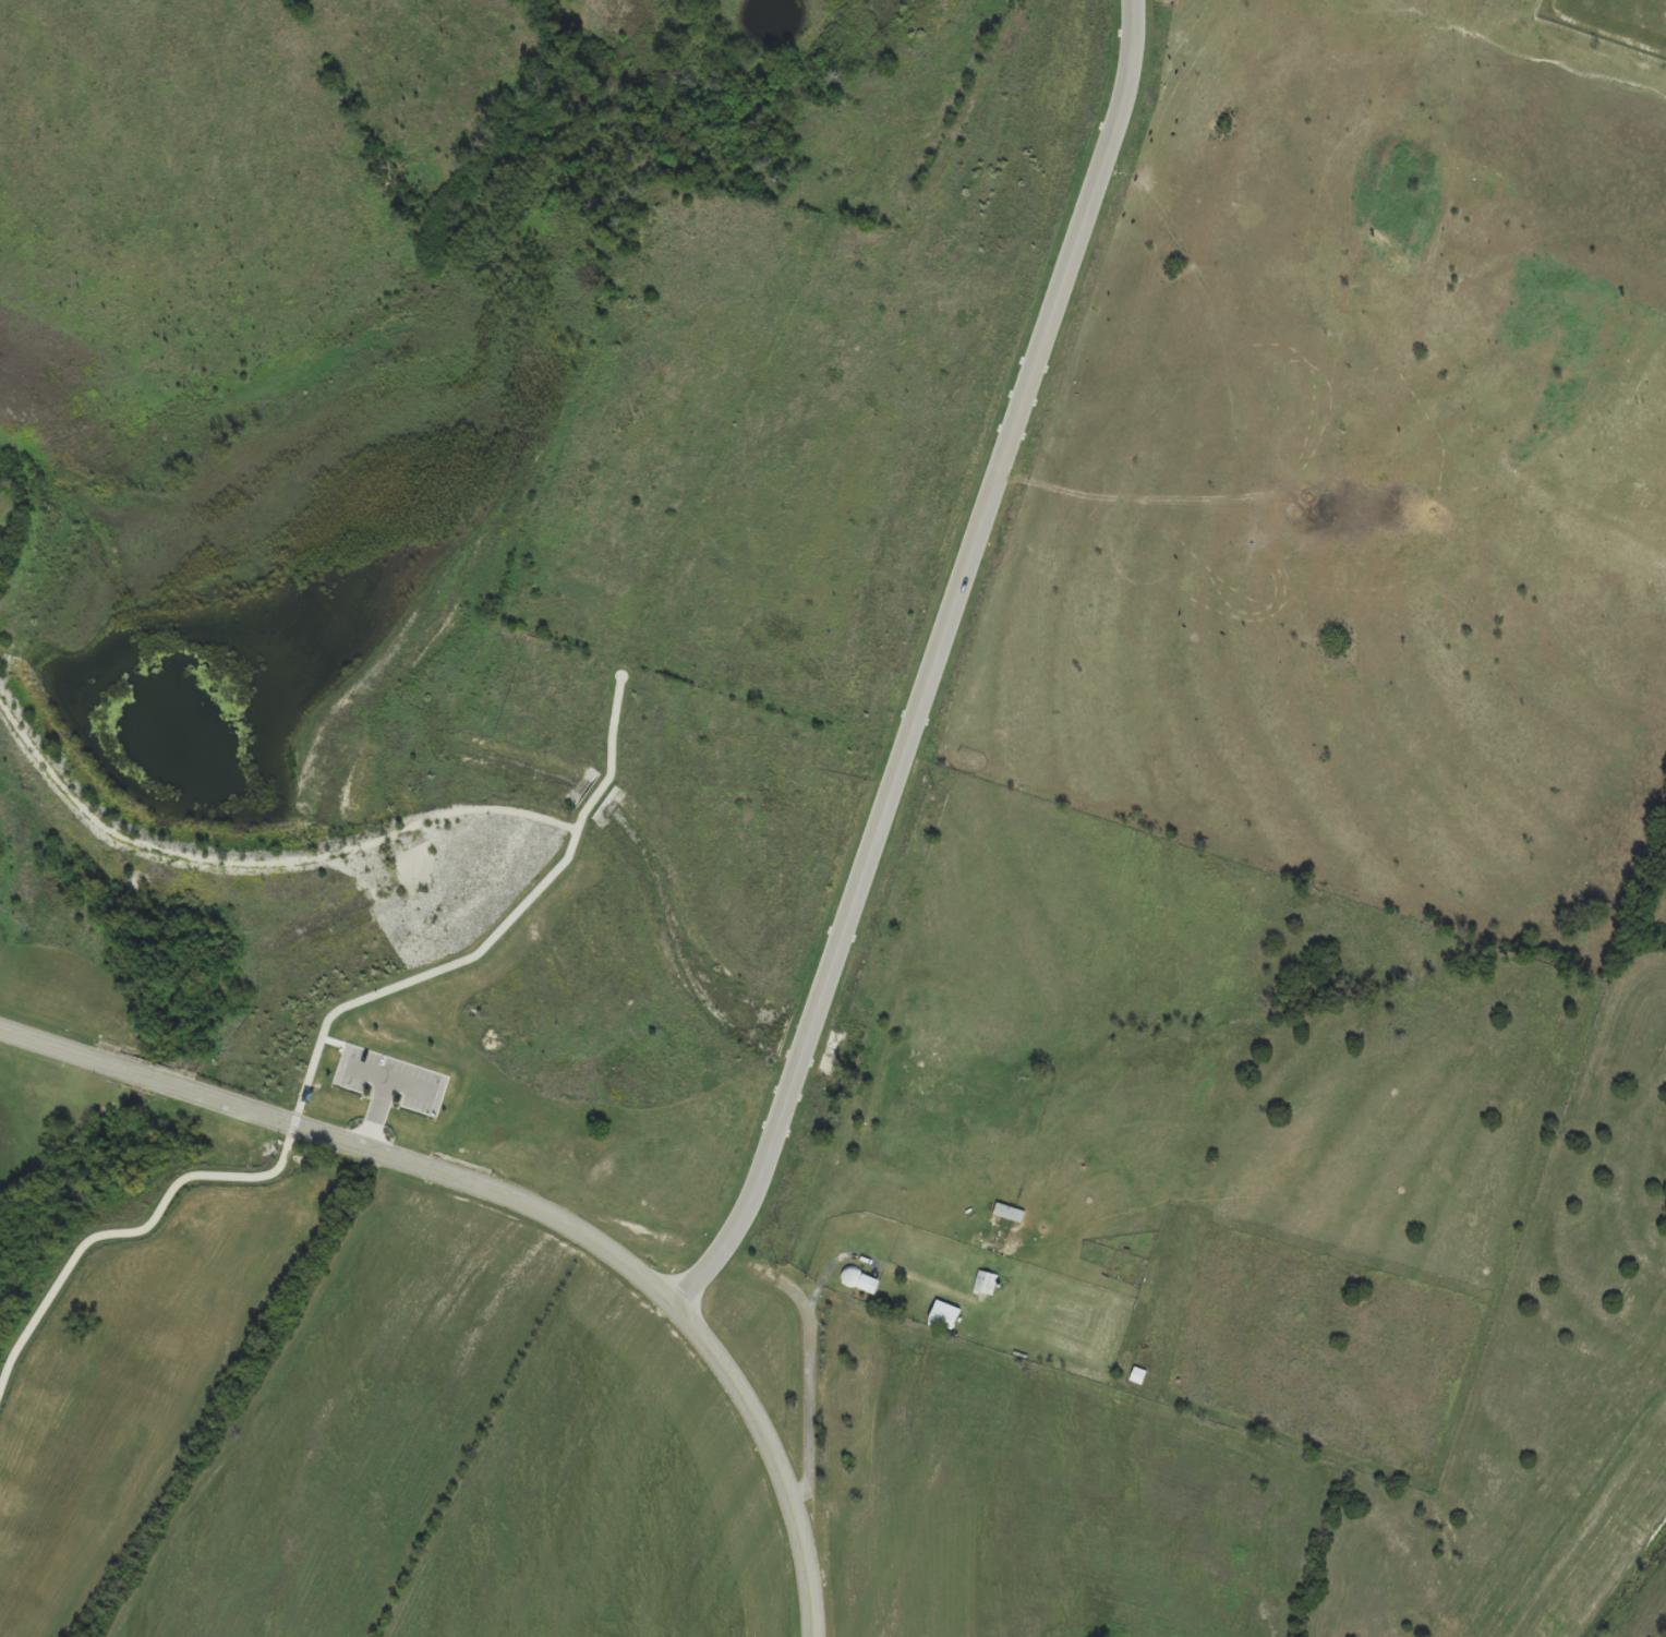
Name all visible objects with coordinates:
road: (932, 665)
road: (317, 1050)
road: (522, 1203)
building: (1010, 1214)
building: (985, 1283)
building: (871, 1285)
building: (947, 1315)
building: (1139, 1376)

